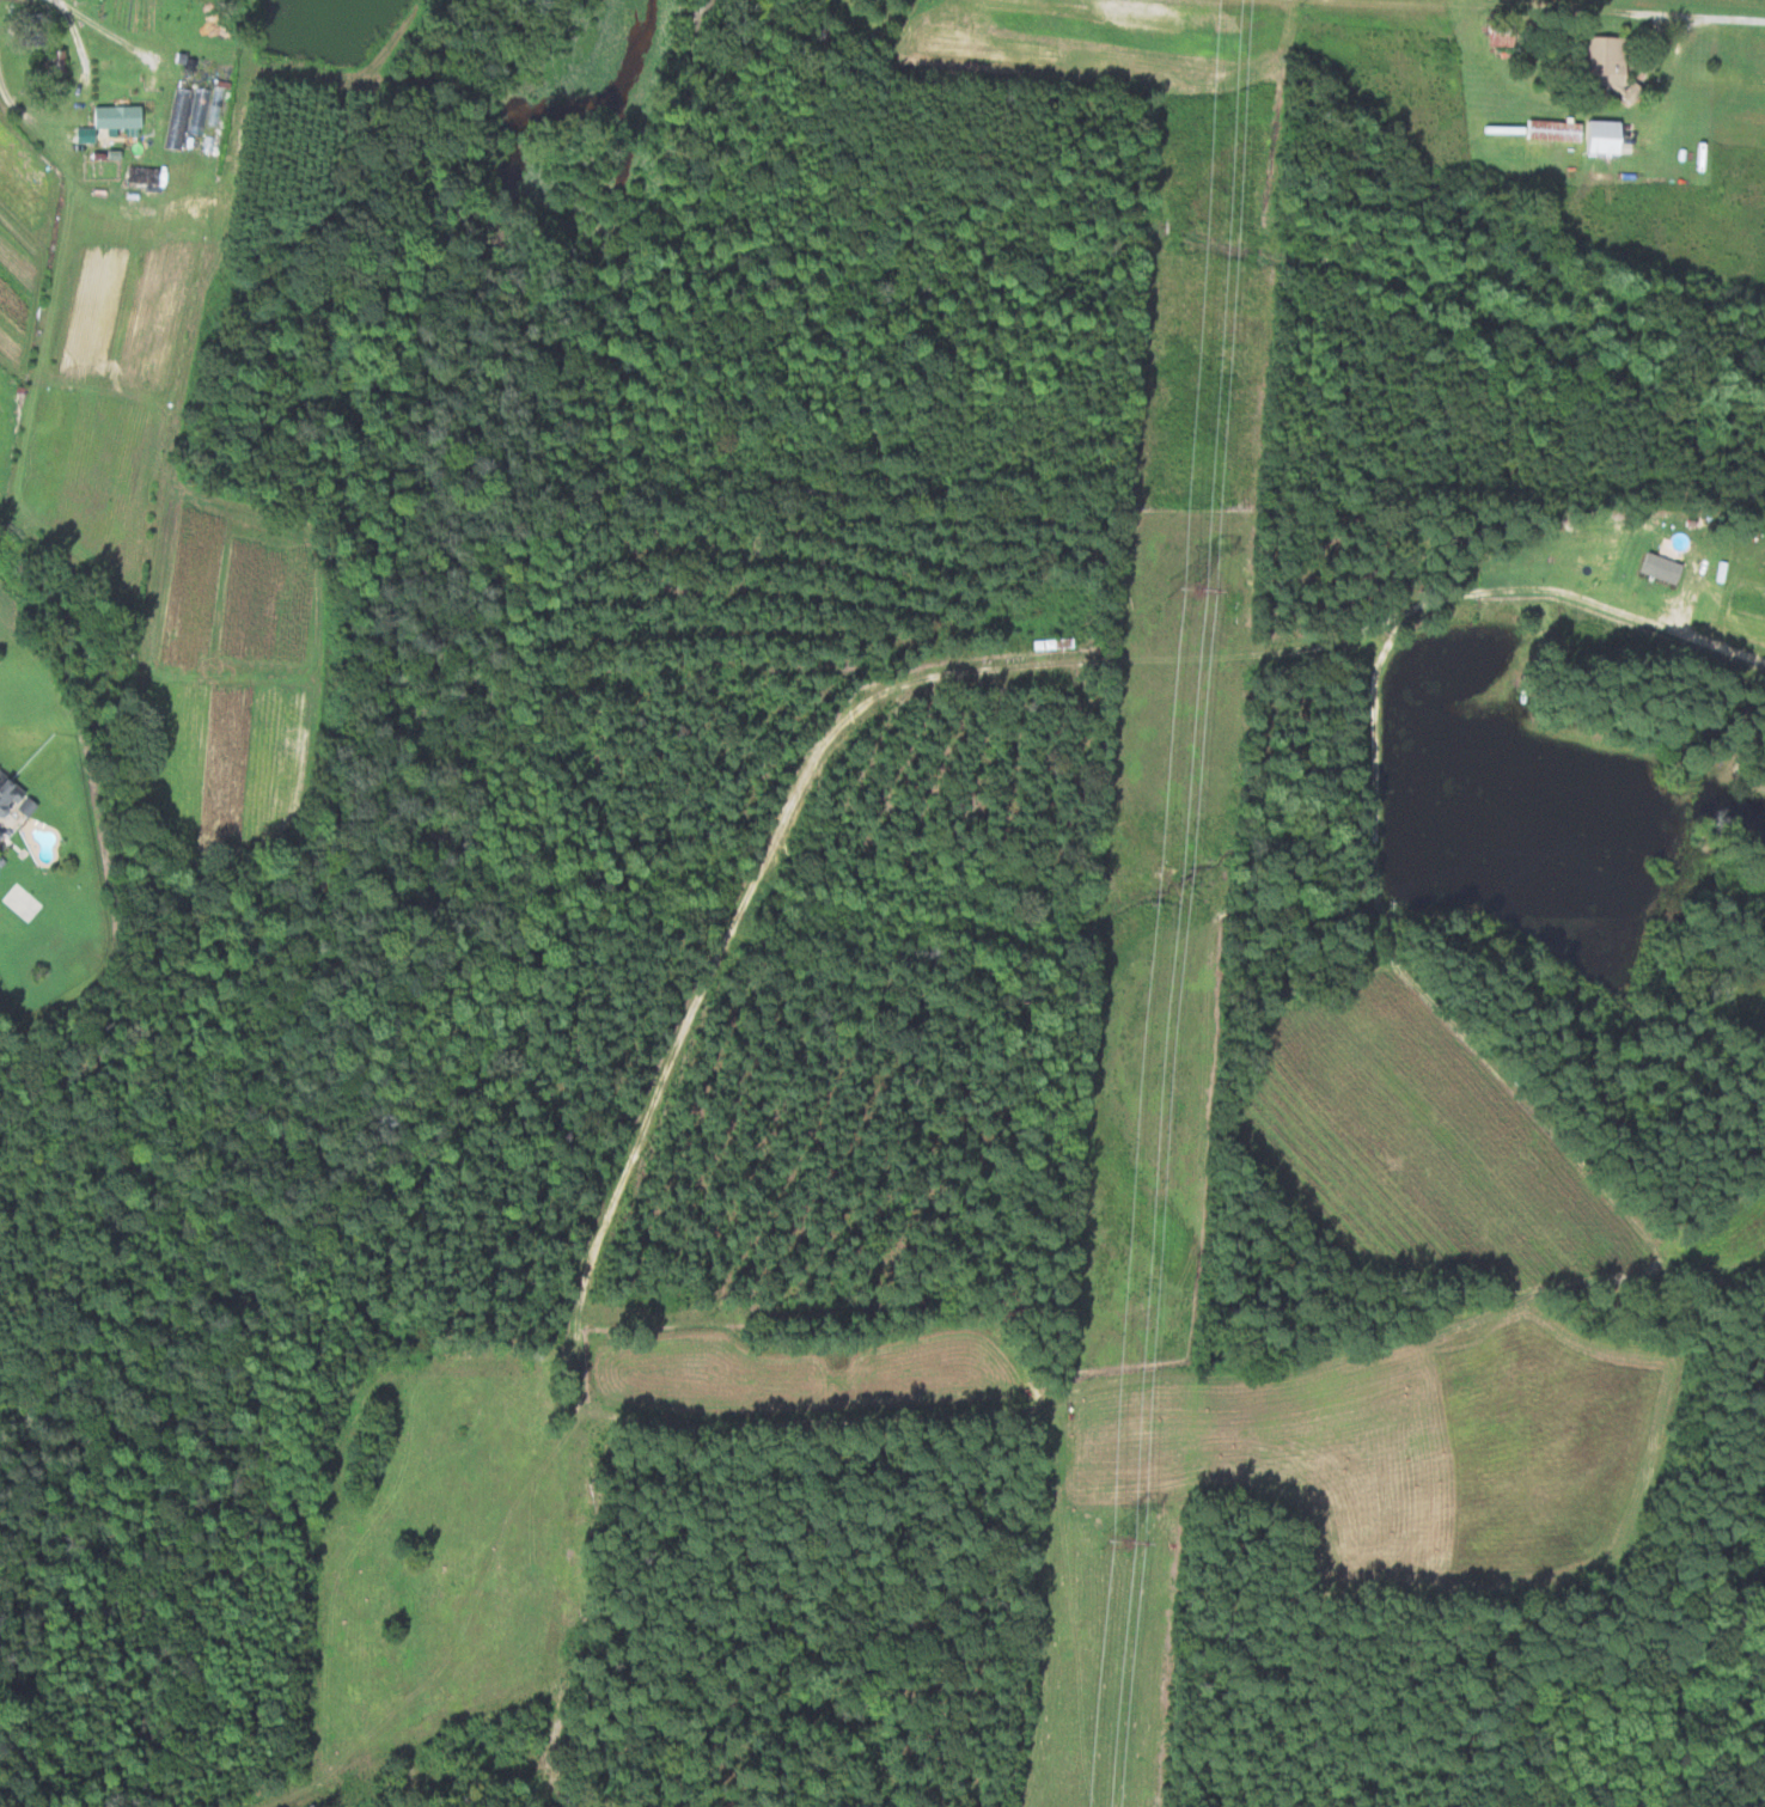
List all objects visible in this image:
road: (1581, 11)
road: (120, 37)
building: (1599, 62)
road: (85, 114)
building: (117, 122)
park: (98, 169)
building: (1655, 568)
power tower: (1181, 587)
road: (965, 669)
building: (10, 796)
building: (2, 838)
power tower: (1109, 1543)

